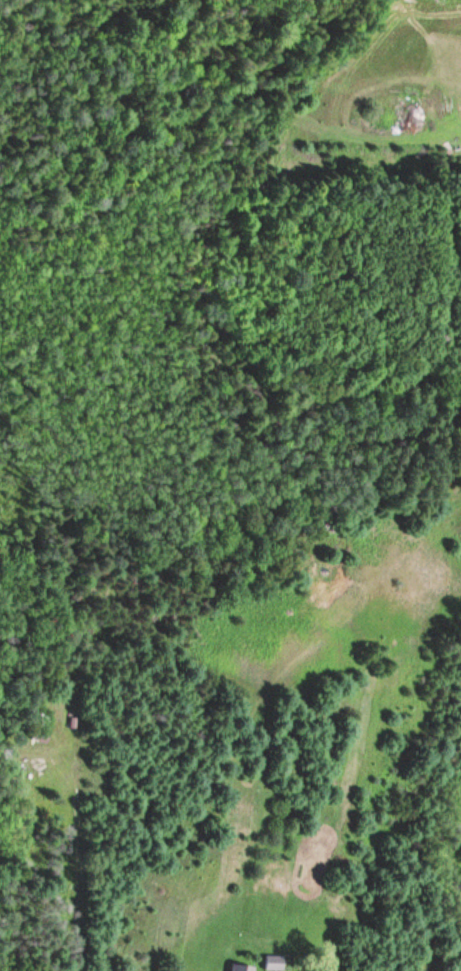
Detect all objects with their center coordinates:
building: (37, 735)
building: (271, 963)
building: (238, 968)

